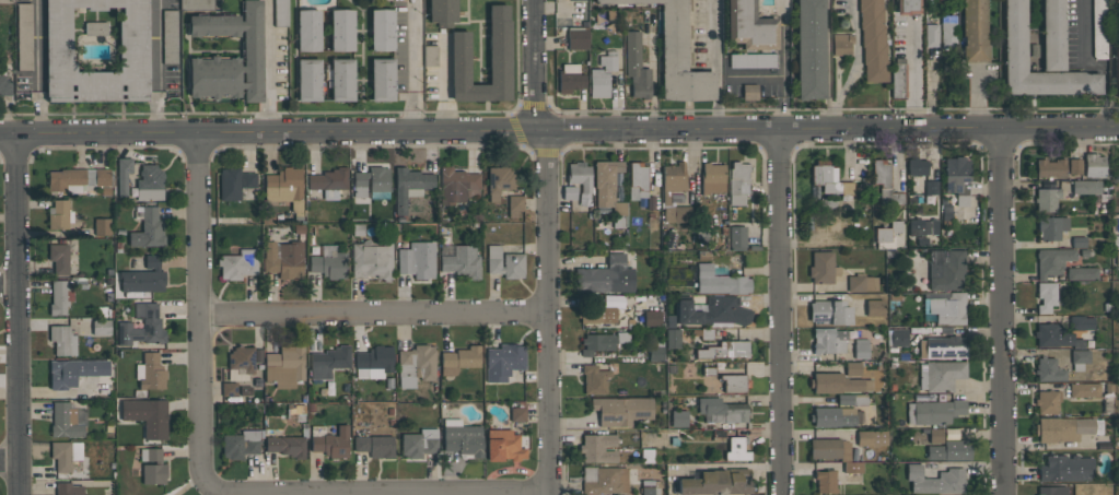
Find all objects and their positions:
building: (572, 0)
building: (1115, 0)
building: (7, 1)
building: (196, 3)
building: (907, 7)
building: (442, 11)
building: (280, 12)
building: (749, 26)
building: (307, 30)
building: (341, 30)
building: (382, 30)
building: (1098, 30)
building: (974, 31)
building: (948, 32)
building: (931, 35)
building: (1014, 35)
building: (24, 36)
building: (168, 36)
building: (576, 38)
building: (132, 40)
building: (873, 40)
building: (841, 45)
building: (809, 49)
building: (676, 55)
building: (229, 56)
building: (430, 56)
building: (499, 57)
building: (753, 60)
road: (718, 62)
road: (782, 62)
road: (415, 64)
road: (1091, 64)
road: (156, 66)
building: (637, 66)
road: (855, 66)
road: (37, 67)
building: (1116, 72)
building: (602, 75)
road: (755, 75)
road: (913, 76)
building: (570, 78)
building: (898, 78)
building: (308, 79)
building: (342, 79)
building: (382, 79)
building: (4, 84)
building: (749, 92)
road: (977, 96)
road: (559, 129)
building: (1094, 165)
building: (917, 166)
building: (1074, 166)
building: (1050, 167)
building: (123, 175)
building: (579, 175)
building: (712, 178)
building: (957, 178)
building: (77, 179)
building: (673, 179)
building: (605, 180)
building: (638, 180)
building: (830, 180)
building: (234, 181)
building: (329, 181)
building: (499, 181)
building: (149, 182)
building: (372, 182)
building: (738, 182)
building: (885, 184)
building: (457, 185)
building: (409, 186)
building: (1086, 186)
building: (931, 187)
building: (284, 188)
building: (569, 192)
building: (1046, 199)
building: (514, 205)
building: (619, 209)
building: (677, 213)
building: (59, 214)
building: (102, 226)
building: (918, 226)
building: (1051, 226)
building: (148, 228)
building: (886, 234)
building: (737, 236)
building: (1077, 241)
road: (549, 246)
building: (59, 257)
building: (1117, 257)
building: (283, 259)
building: (371, 259)
building: (417, 259)
building: (462, 261)
building: (1051, 261)
building: (504, 262)
building: (237, 263)
building: (329, 264)
building: (820, 267)
building: (945, 269)
building: (1082, 273)
building: (143, 276)
building: (605, 276)
building: (720, 281)
building: (855, 283)
road: (9, 285)
building: (1046, 296)
building: (58, 297)
building: (945, 306)
building: (874, 307)
road: (781, 310)
building: (714, 311)
road: (1004, 311)
road: (200, 313)
building: (829, 313)
road: (375, 314)
road: (19, 315)
building: (596, 315)
building: (652, 318)
building: (1081, 322)
building: (152, 323)
building: (101, 327)
building: (896, 337)
building: (1054, 337)
building: (673, 338)
building: (62, 340)
building: (828, 340)
building: (602, 341)
building: (943, 347)
building: (861, 349)
building: (724, 350)
building: (655, 353)
building: (1084, 357)
building: (459, 360)
building: (328, 361)
building: (503, 361)
building: (374, 362)
building: (240, 363)
building: (416, 364)
building: (283, 366)
building: (852, 368)
building: (709, 370)
building: (1048, 370)
building: (73, 372)
building: (150, 372)
building: (940, 375)
building: (594, 379)
building: (734, 382)
building: (837, 382)
building: (229, 389)
building: (1084, 389)
building: (851, 399)
building: (1047, 401)
building: (620, 410)
building: (721, 410)
building: (934, 411)
building: (517, 413)
building: (147, 415)
building: (832, 416)
building: (678, 417)
building: (67, 420)
building: (1062, 428)
building: (935, 435)
building: (462, 437)
building: (872, 437)
building: (329, 440)
building: (419, 443)
building: (240, 444)
building: (374, 445)
building: (503, 445)
building: (285, 446)
building: (597, 448)
building: (736, 448)
building: (829, 448)
building: (949, 450)
building: (65, 453)
road: (10, 461)
building: (153, 467)
building: (852, 467)
building: (1065, 468)
building: (604, 480)
building: (935, 480)
building: (825, 481)
building: (716, 482)
building: (650, 487)
building: (68, 488)
building: (1052, 491)
road: (421, 493)

